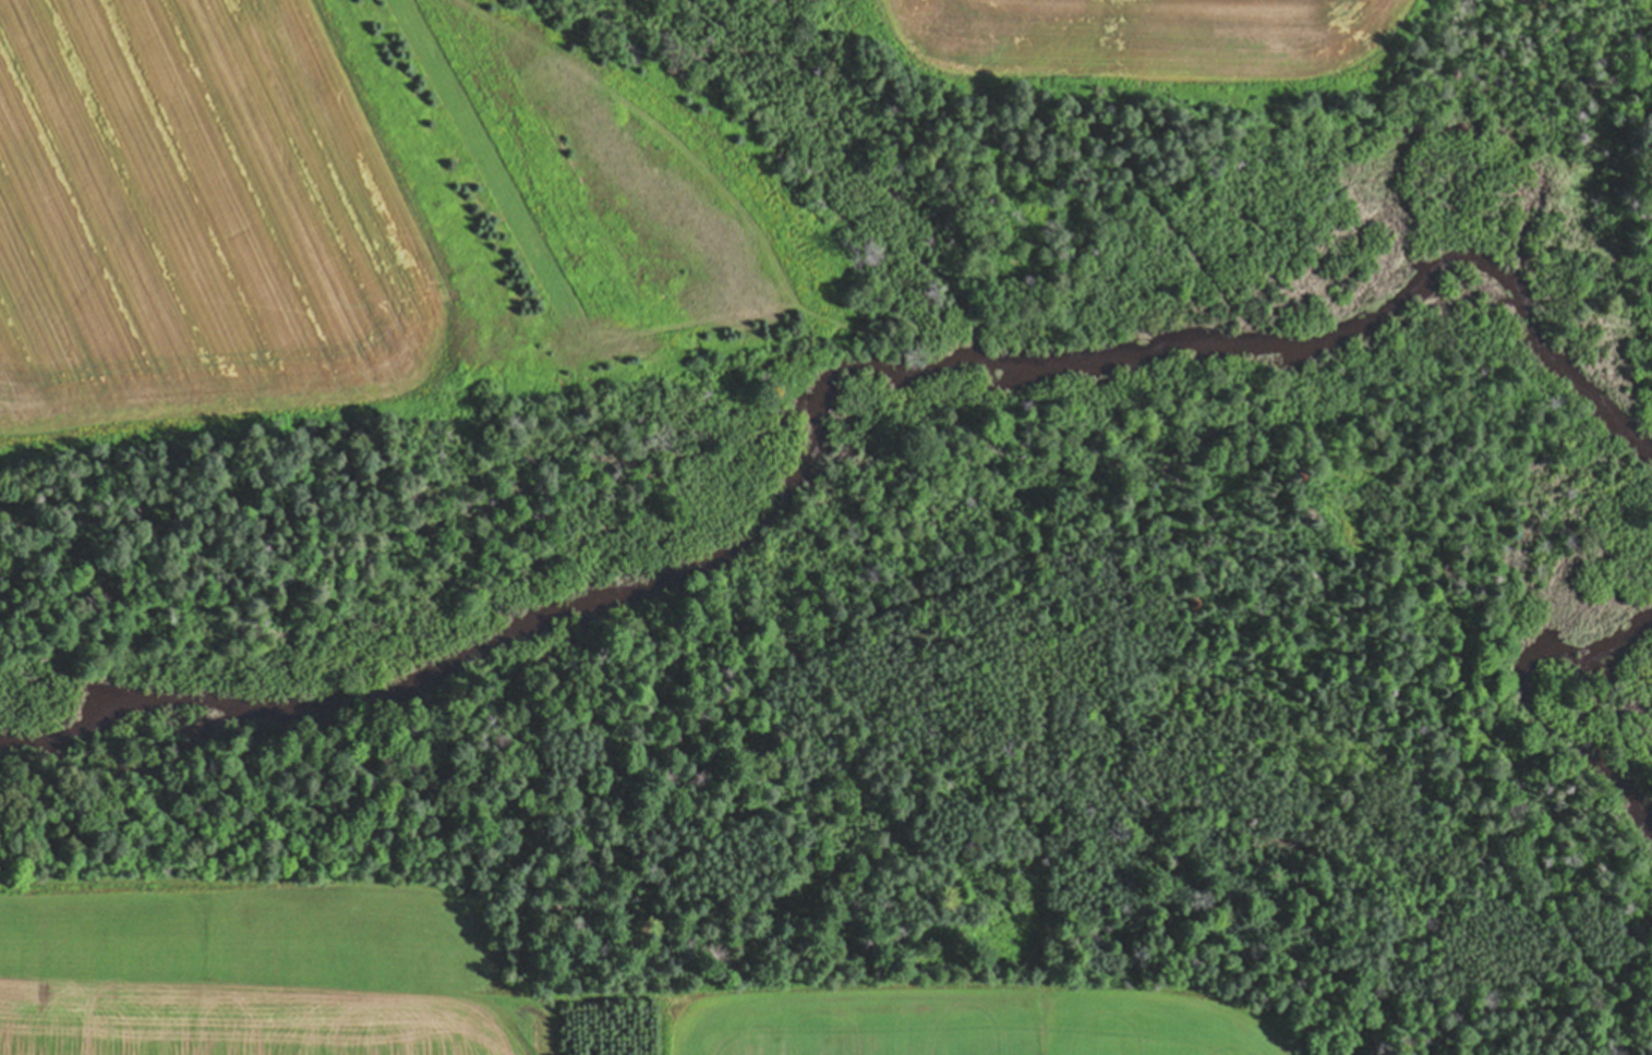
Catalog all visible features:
river: (1403, 198)
river: (526, 623)
river: (1540, 703)

